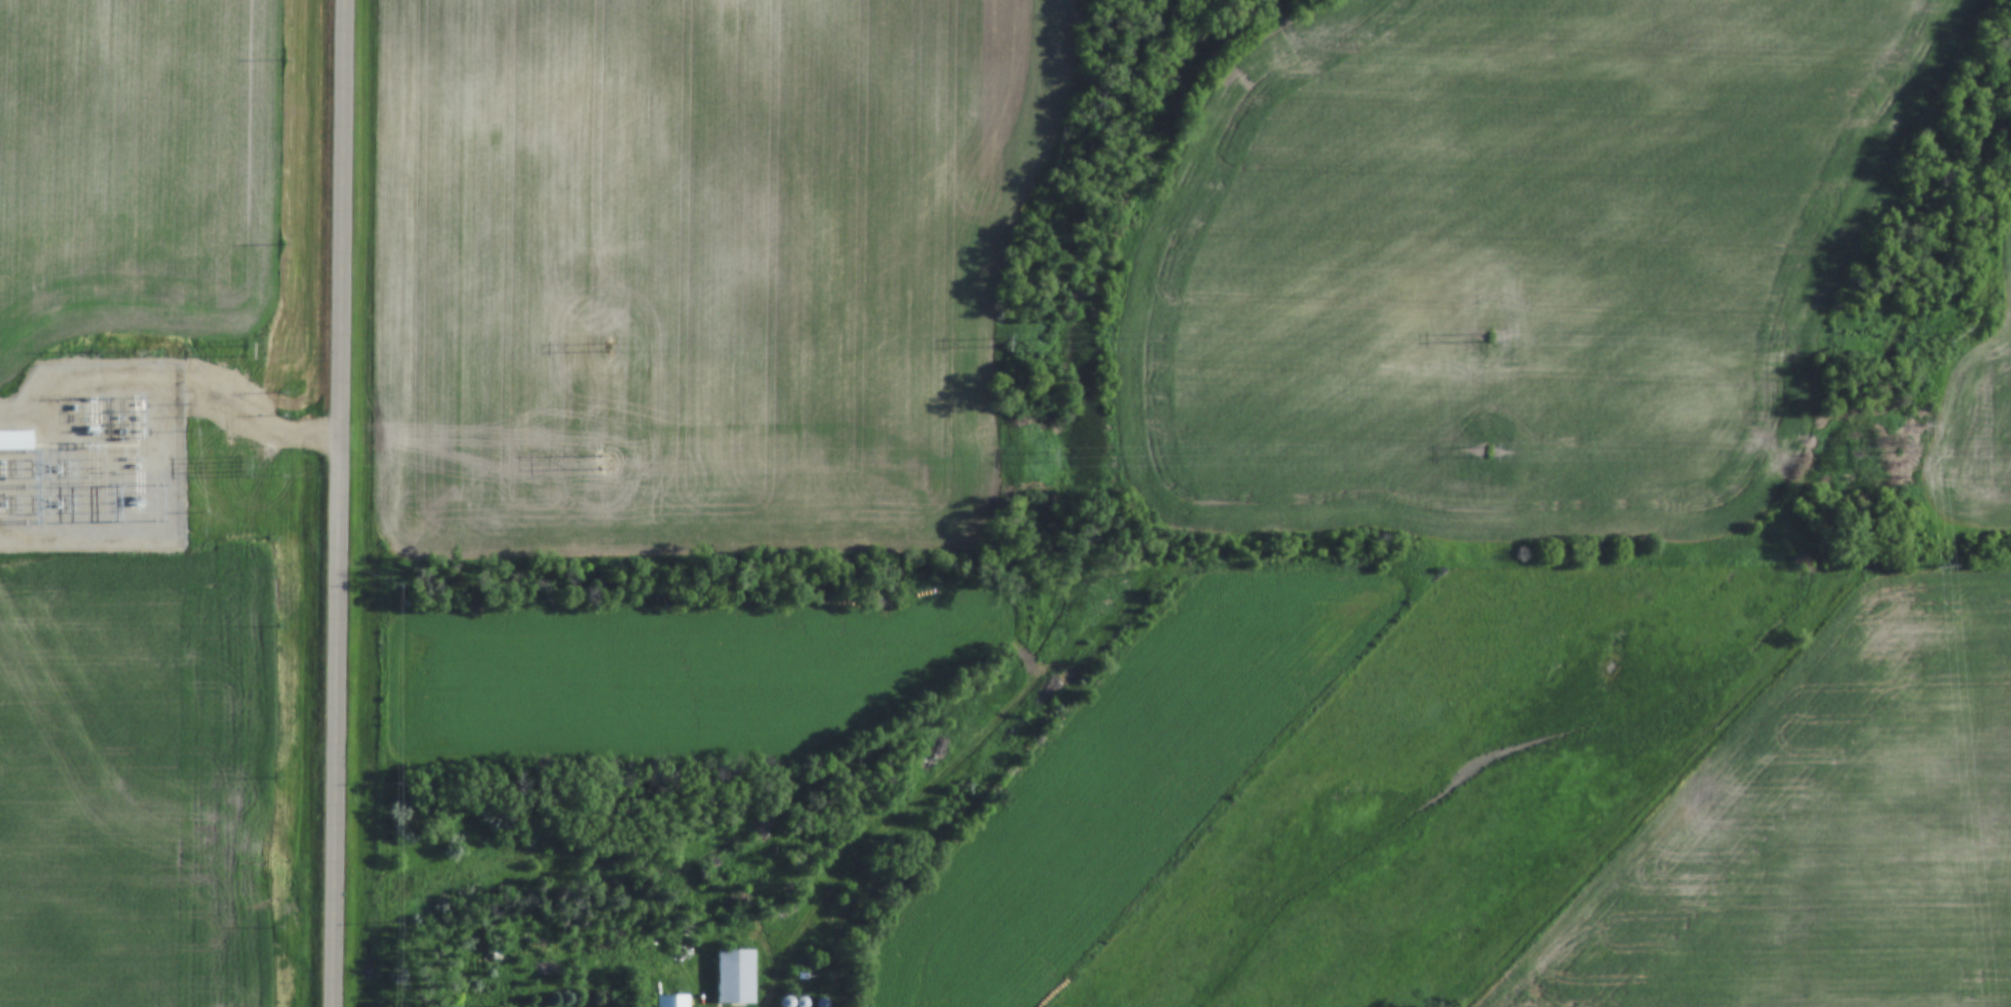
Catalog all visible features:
power tower: (1950, 327)
power tower: (1489, 334)
power tower: (1003, 341)
power tower: (245, 347)
power tower: (604, 347)
power tower: (134, 350)
road: (263, 418)
building: (15, 439)
power tower: (1488, 450)
power substation: (93, 456)
power tower: (1045, 456)
power tower: (604, 462)
power tower: (238, 464)
road: (343, 503)
power tower: (1943, 560)
building: (735, 975)
building: (672, 1000)

